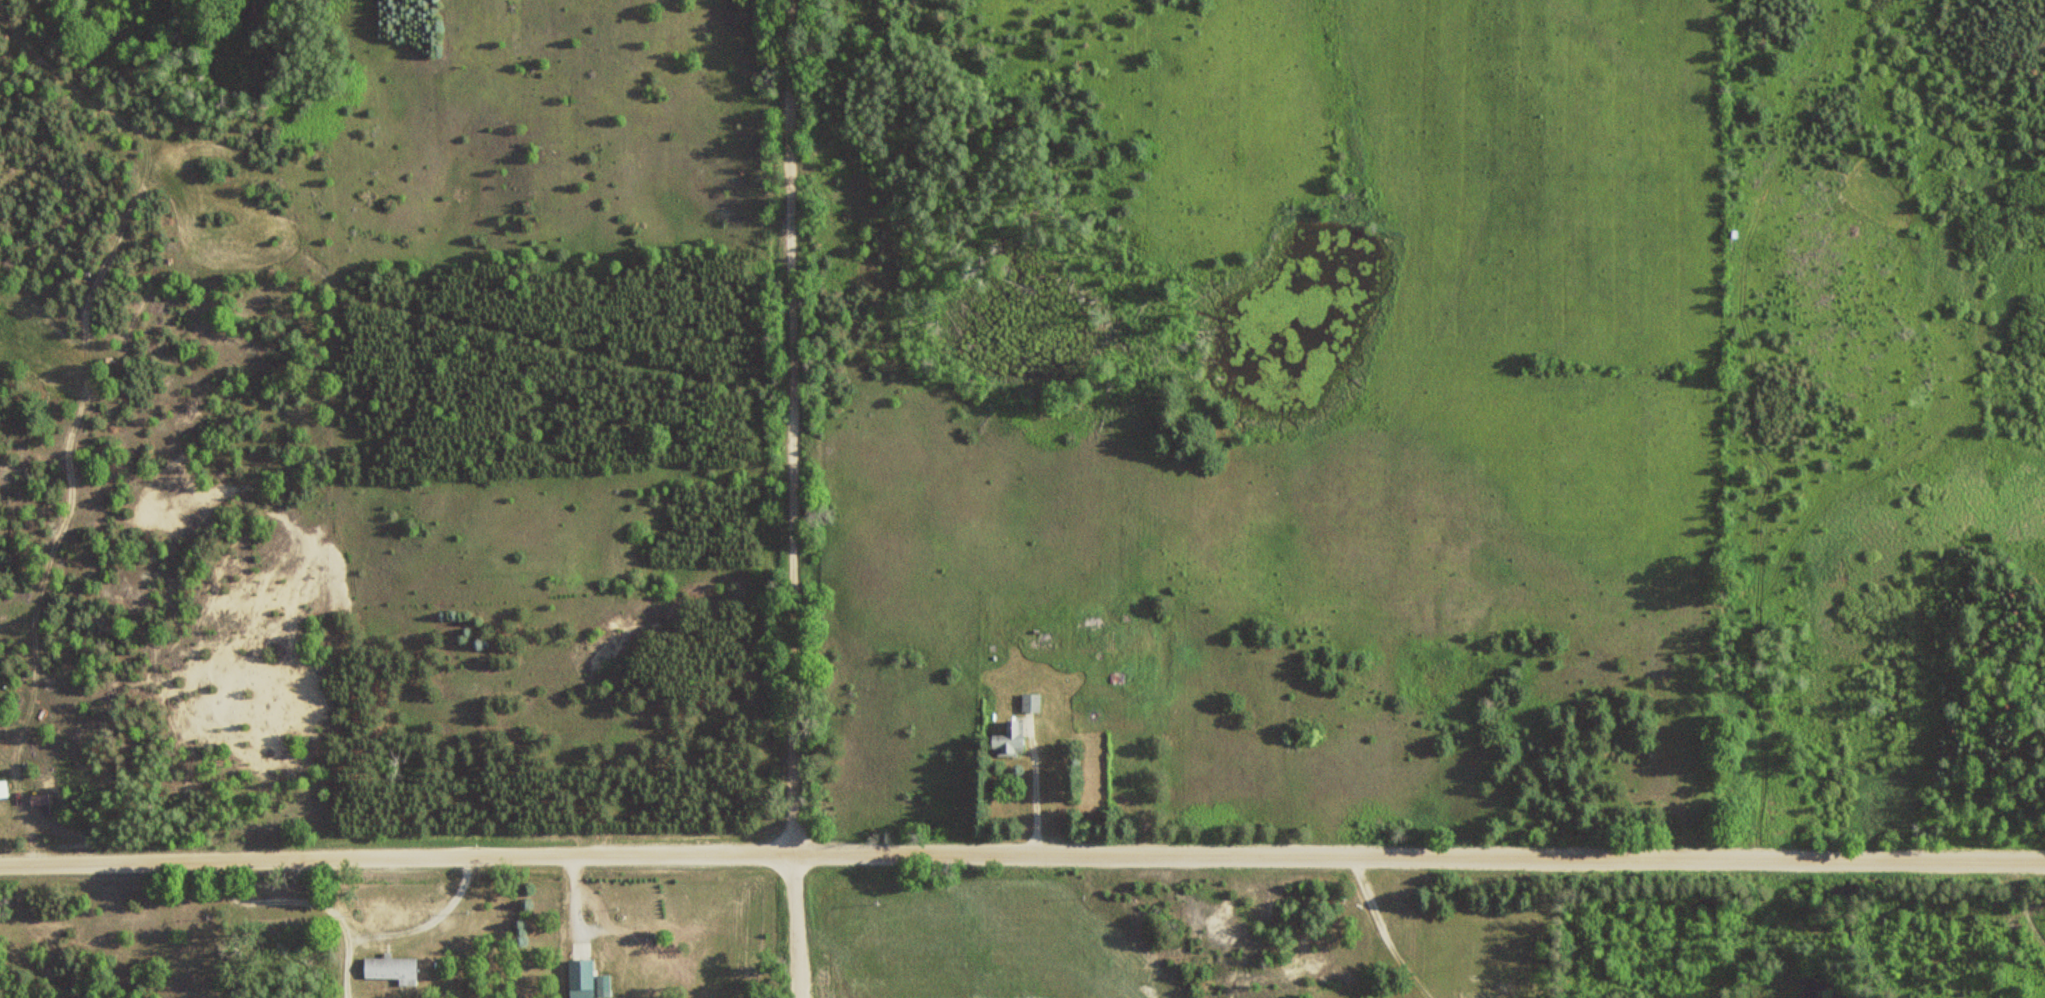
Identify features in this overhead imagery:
road: (793, 426)
building: (1030, 702)
building: (1008, 740)
road: (1022, 853)
road: (794, 925)
road: (1383, 932)
building: (390, 967)
building: (579, 978)
building: (622, 997)

